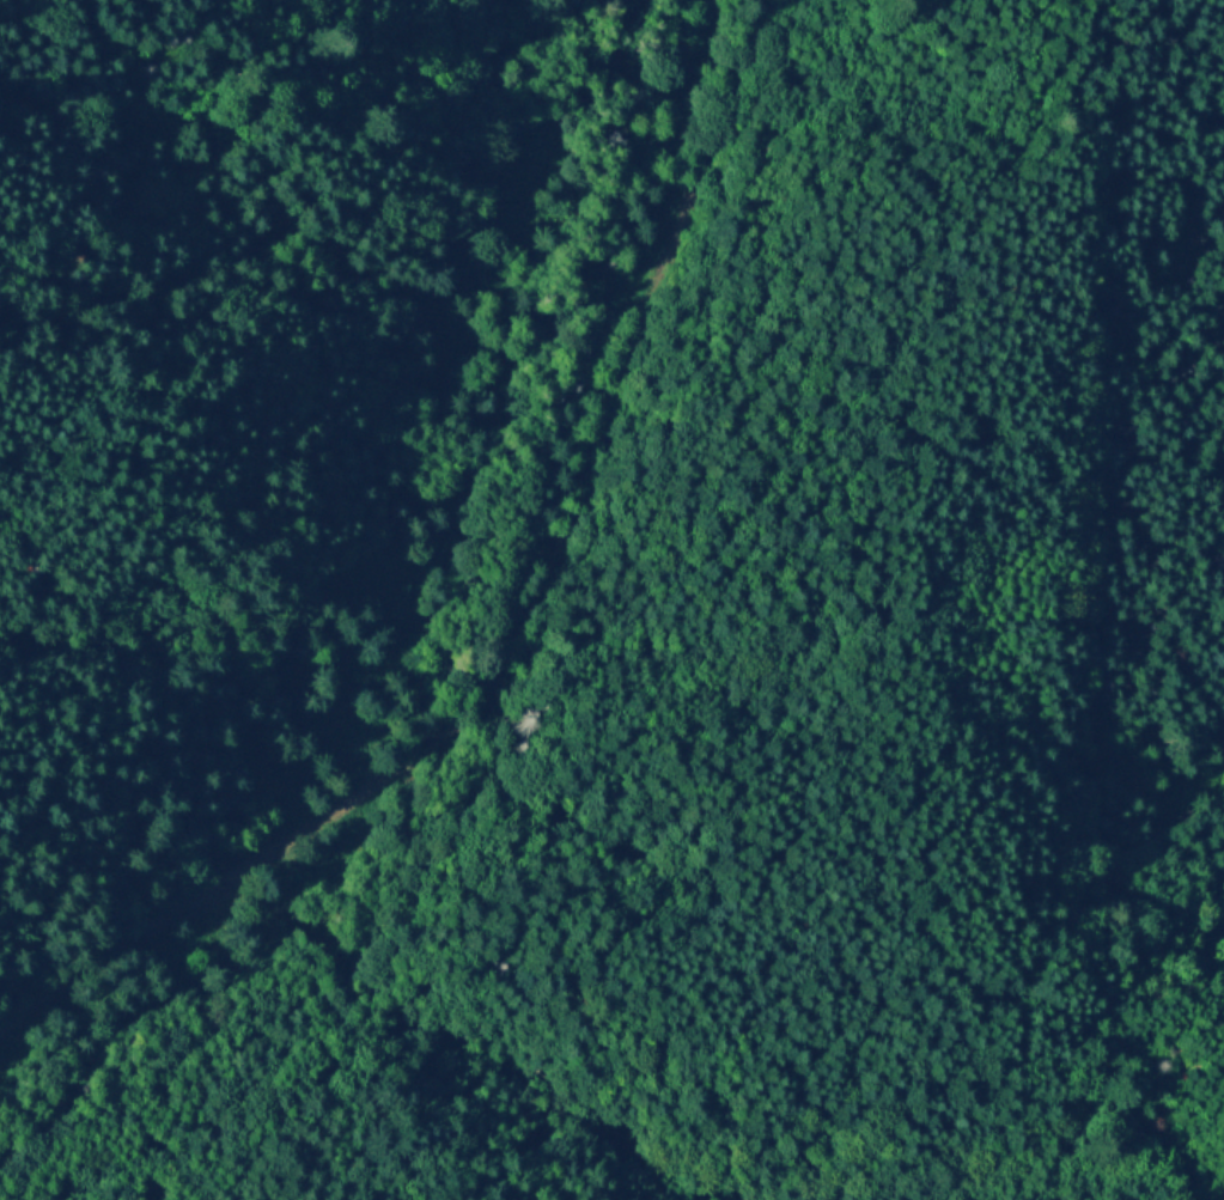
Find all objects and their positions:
road: (529, 627)
road: (1094, 989)
road: (1223, 1041)

